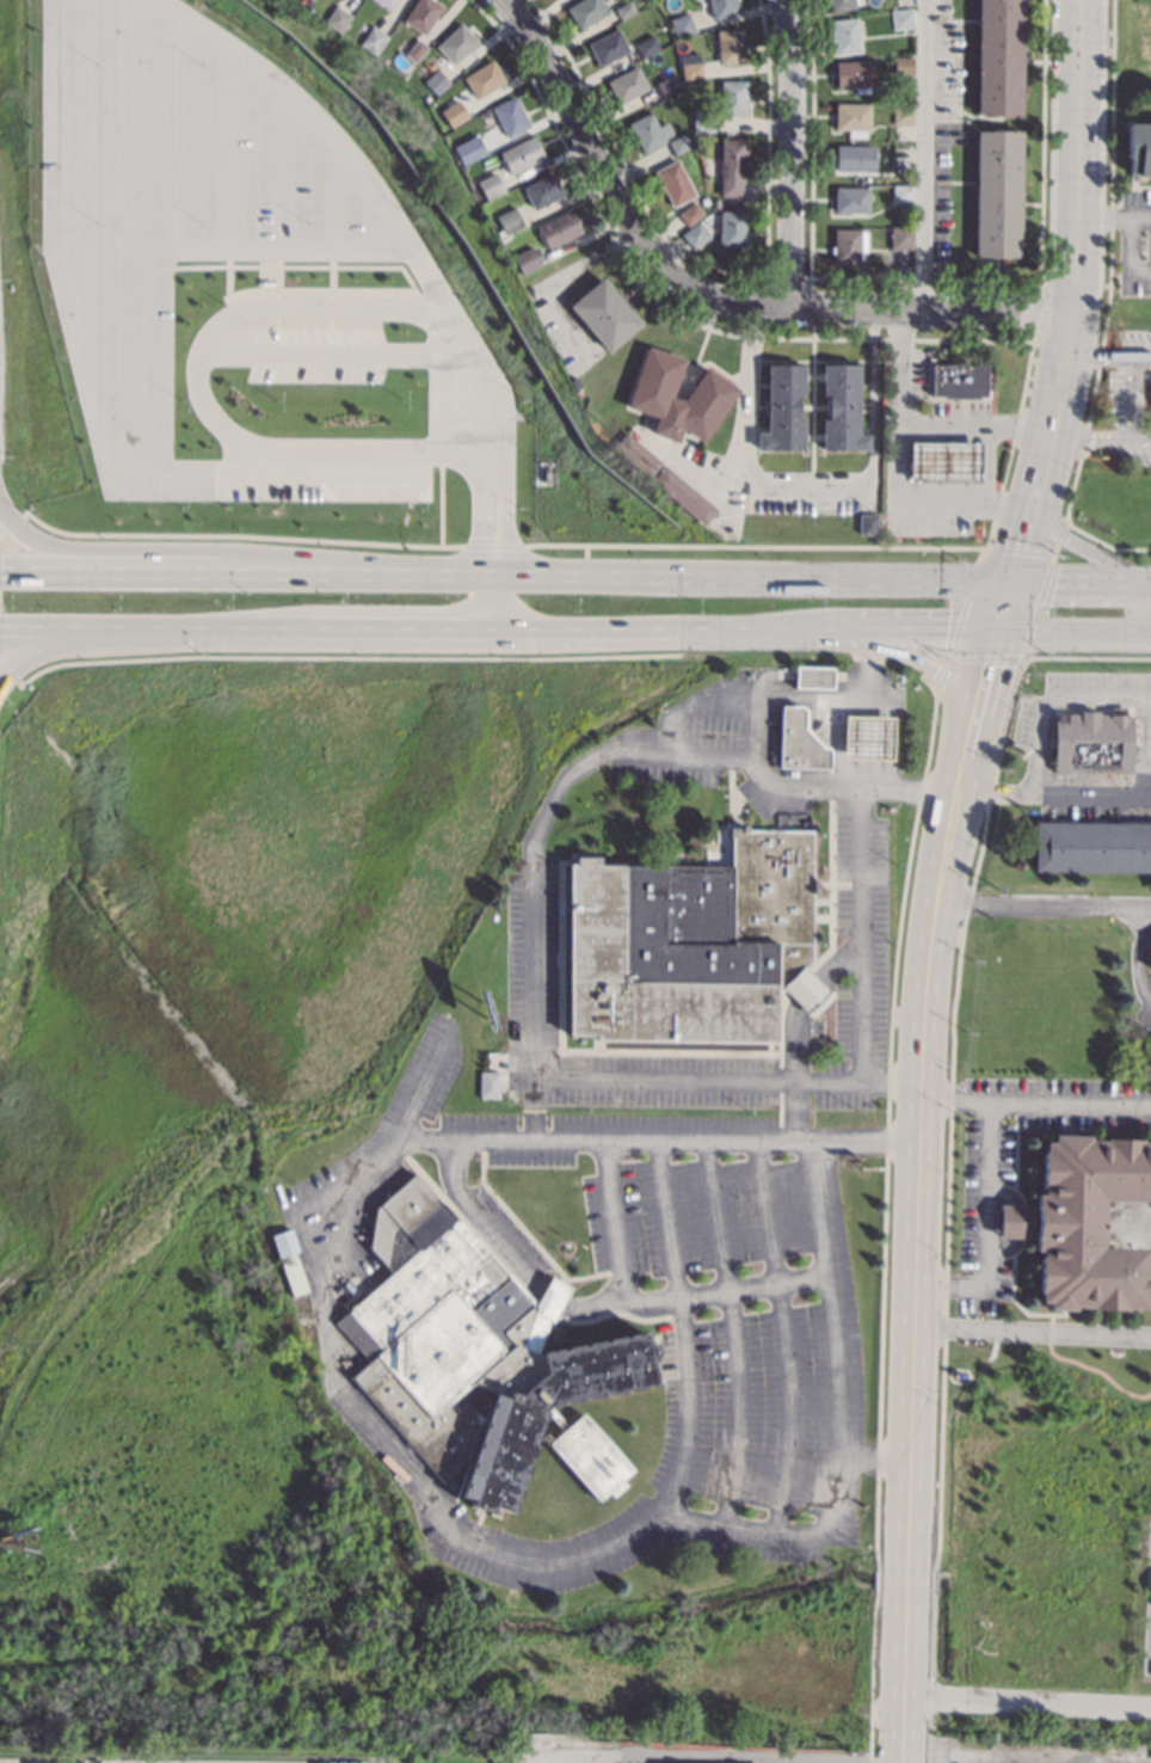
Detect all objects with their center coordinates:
building: (387, 4)
building: (841, 4)
building: (722, 7)
building: (624, 8)
building: (585, 11)
road: (1077, 12)
building: (421, 13)
building: (338, 18)
building: (901, 18)
building: (681, 24)
building: (844, 35)
building: (374, 39)
building: (456, 42)
building: (646, 44)
building: (730, 45)
building: (608, 47)
building: (416, 49)
building: (998, 57)
building: (903, 64)
building: (690, 66)
building: (855, 74)
building: (484, 78)
building: (436, 80)
building: (627, 84)
building: (669, 86)
building: (732, 97)
building: (454, 112)
building: (901, 112)
building: (510, 116)
building: (853, 117)
building: (703, 119)
road: (122, 124)
road: (179, 131)
building: (650, 131)
road: (326, 134)
road: (1041, 141)
building: (679, 142)
building: (1138, 147)
road: (234, 152)
building: (469, 153)
building: (522, 154)
road: (789, 155)
building: (901, 155)
building: (854, 156)
road: (922, 156)
building: (732, 166)
road: (285, 171)
building: (675, 182)
building: (491, 185)
building: (542, 190)
building: (901, 192)
building: (997, 192)
road: (338, 198)
building: (850, 198)
building: (715, 203)
building: (690, 213)
building: (510, 220)
road: (1101, 223)
road: (1139, 223)
parking lot: (187, 225)
building: (560, 228)
building: (732, 228)
road: (1073, 232)
building: (695, 234)
building: (900, 236)
building: (848, 244)
road: (239, 248)
building: (527, 258)
road: (1127, 259)
road: (1045, 283)
road: (709, 291)
building: (604, 313)
road: (226, 318)
road: (812, 324)
road: (81, 336)
road: (752, 338)
road: (333, 350)
road: (1107, 351)
parking lot: (303, 352)
road: (144, 358)
road: (811, 361)
road: (485, 377)
building: (959, 379)
building: (712, 391)
road: (1138, 395)
building: (783, 406)
building: (841, 407)
road: (811, 424)
road: (971, 424)
road: (1096, 437)
road: (734, 442)
road: (396, 454)
building: (636, 454)
road: (1036, 457)
building: (943, 461)
road: (897, 468)
road: (841, 489)
building: (684, 492)
road: (1027, 496)
road: (501, 515)
road: (485, 516)
building: (867, 522)
road: (1077, 543)
road: (1014, 547)
road: (78, 552)
road: (84, 571)
road: (271, 573)
road: (433, 577)
road: (749, 579)
traffic signals: (1005, 582)
road: (1077, 583)
road: (492, 603)
road: (999, 604)
road: (1134, 607)
road: (659, 628)
road: (910, 628)
traffic signals: (995, 628)
road: (1072, 628)
road: (80, 629)
road: (399, 629)
road: (233, 631)
road: (73, 641)
road: (909, 657)
road: (984, 672)
building: (812, 676)
road: (1048, 694)
building: (866, 737)
gas station: (866, 737)
road: (1150, 739)
building: (798, 741)
building: (1091, 741)
road: (1147, 744)
parking lot: (1141, 747)
road: (964, 752)
road: (1052, 791)
building: (1091, 846)
parking lot: (860, 870)
road: (1041, 903)
road: (858, 919)
road: (531, 928)
building: (691, 942)
road: (1139, 953)
parking lot: (529, 964)
building: (1150, 964)
building: (1150, 967)
parking lot: (1149, 994)
road: (795, 1026)
building: (487, 1085)
road: (418, 1087)
road: (1071, 1104)
road: (989, 1194)
road: (336, 1202)
parking lot: (974, 1217)
building: (1089, 1222)
road: (510, 1258)
building: (289, 1260)
road: (913, 1274)
road: (646, 1301)
parking lot: (751, 1302)
road: (682, 1326)
road: (1032, 1331)
road: (732, 1334)
road: (782, 1337)
building: (476, 1354)
road: (838, 1417)
road: (873, 1455)
parking lot: (1147, 1611)
road: (1026, 1702)
parking lot: (617, 1761)
road: (718, 1761)
parking lot: (792, 1762)

